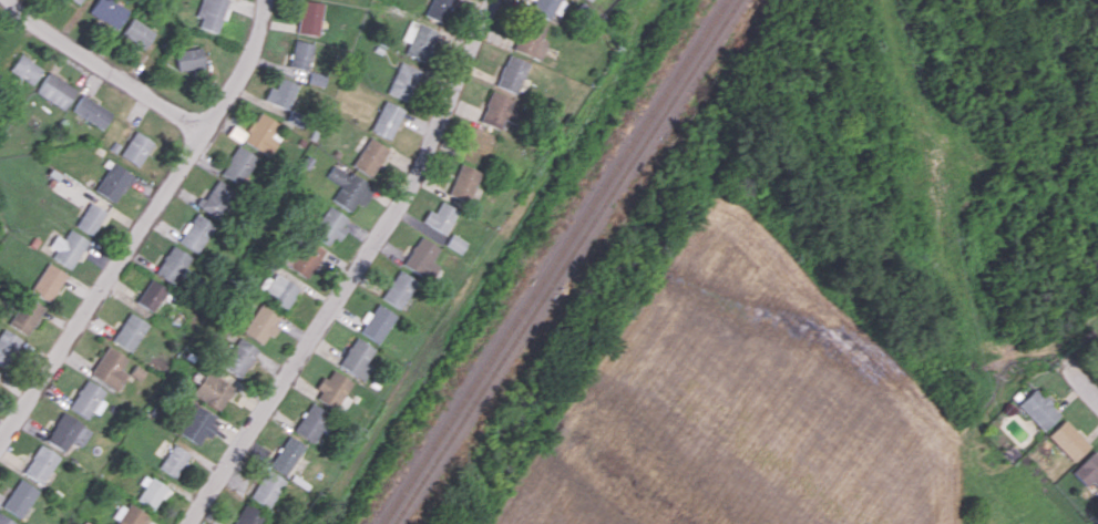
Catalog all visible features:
road: (106, 66)
road: (142, 226)
railway: (554, 261)
railway: (565, 261)
road: (355, 268)
road: (1084, 374)
park: (1006, 491)

